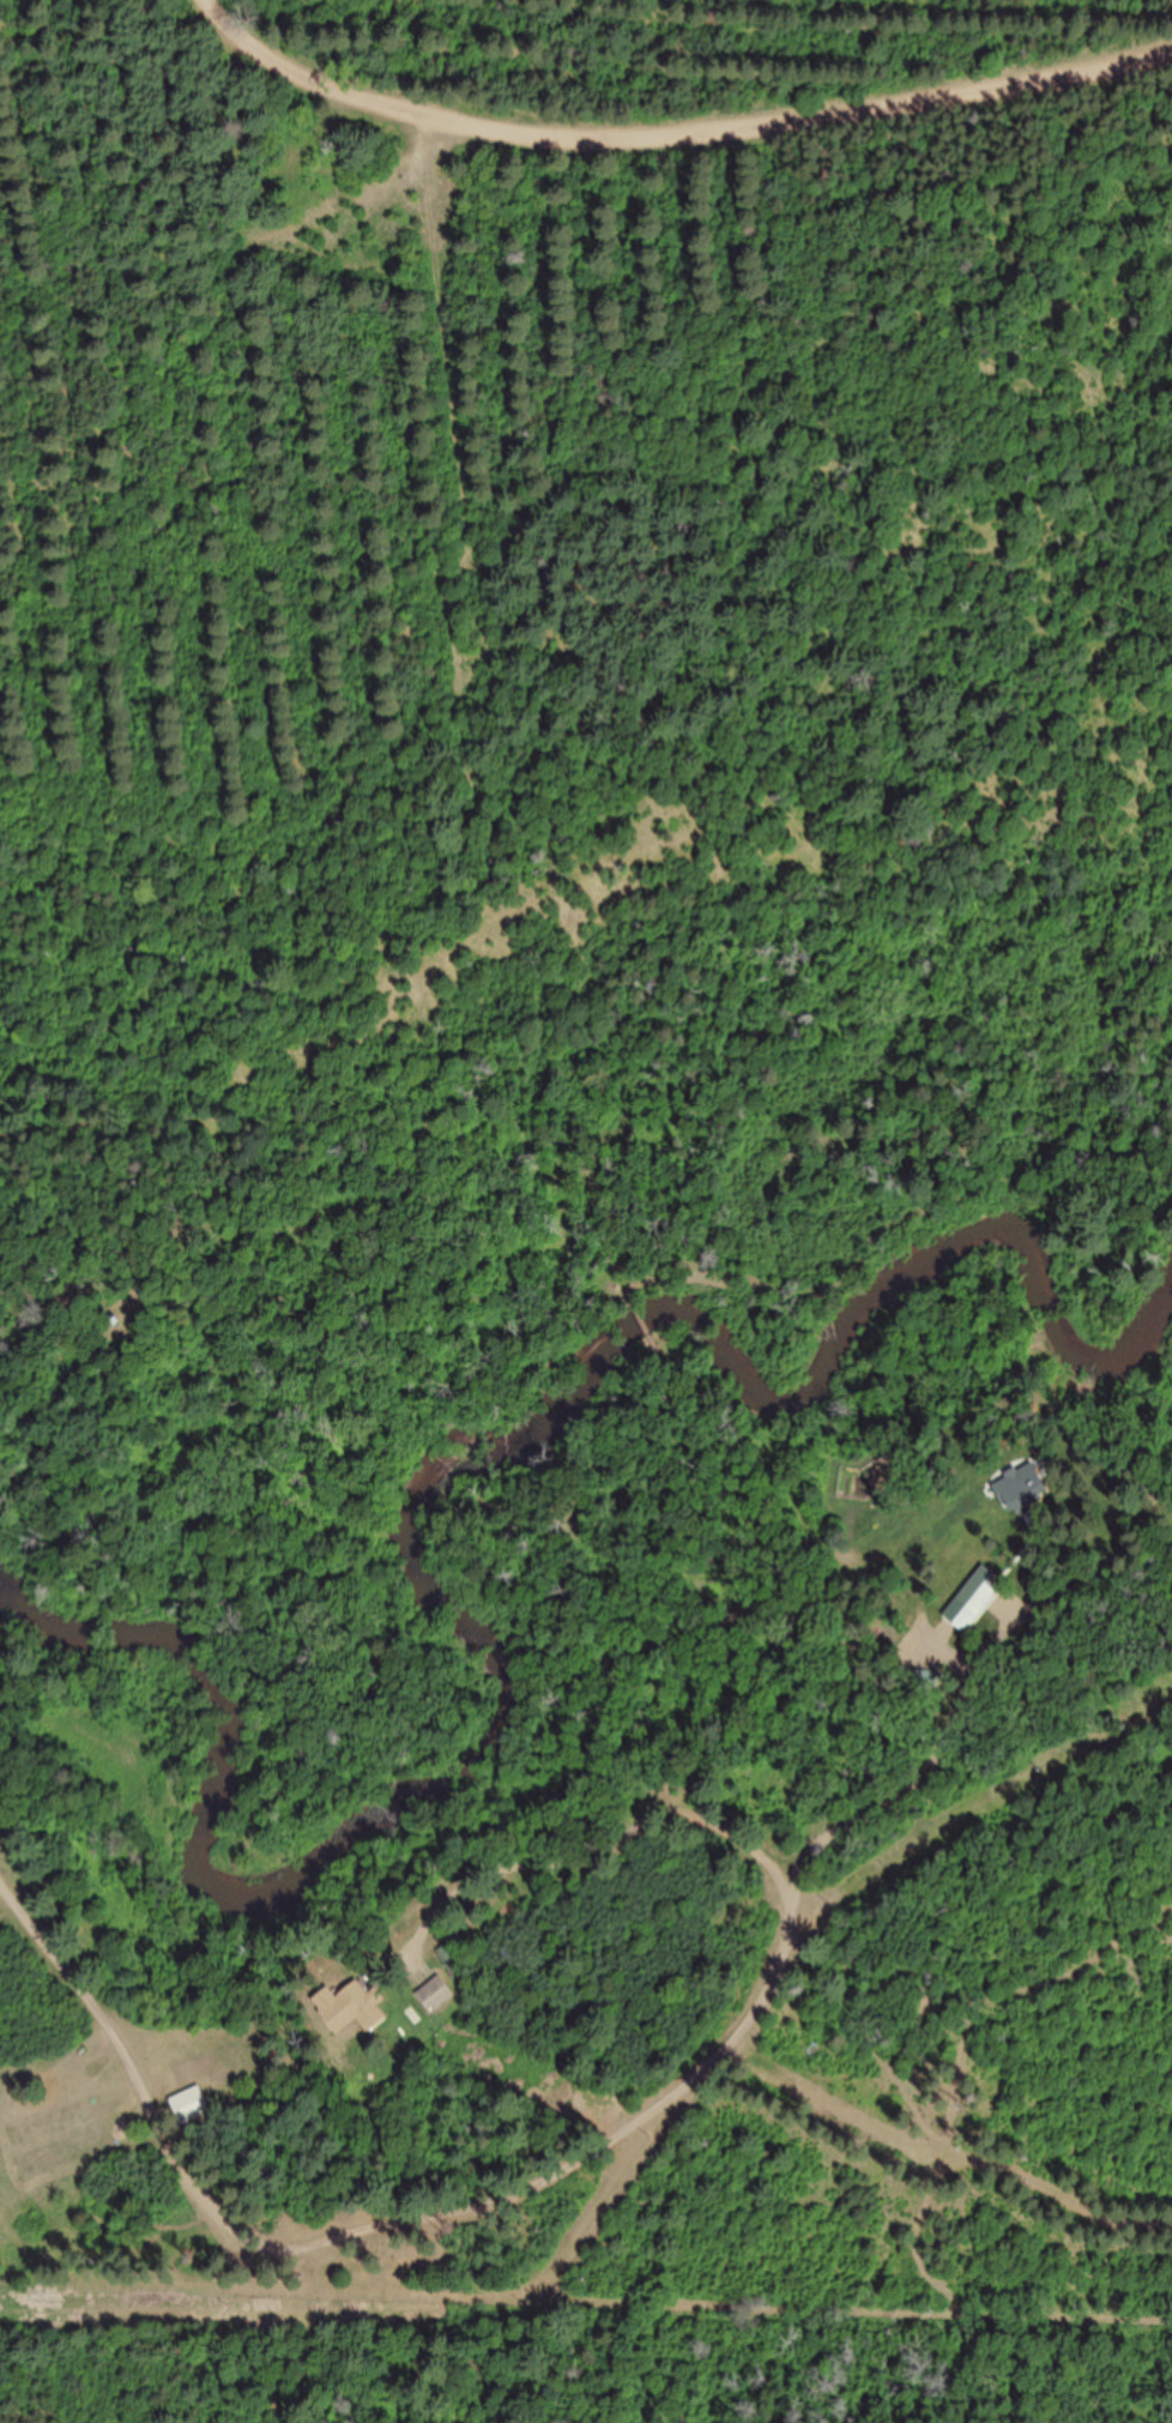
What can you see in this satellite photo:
road: (684, 122)
building: (1033, 1490)
river: (458, 1505)
building: (981, 1590)
road: (611, 1846)
building: (451, 1961)
building: (436, 1995)
building: (366, 2005)
building: (191, 2105)
road: (363, 2212)

